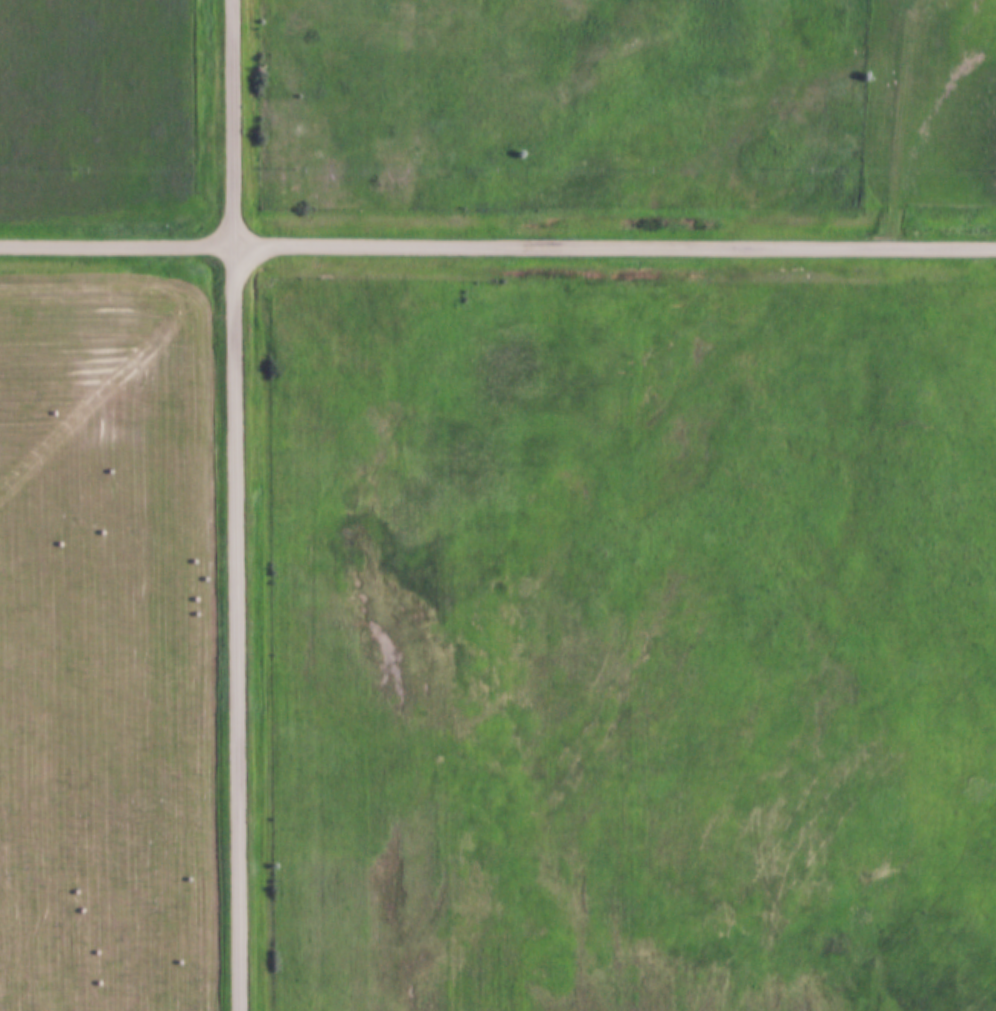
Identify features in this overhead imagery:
road: (497, 240)
road: (235, 505)

